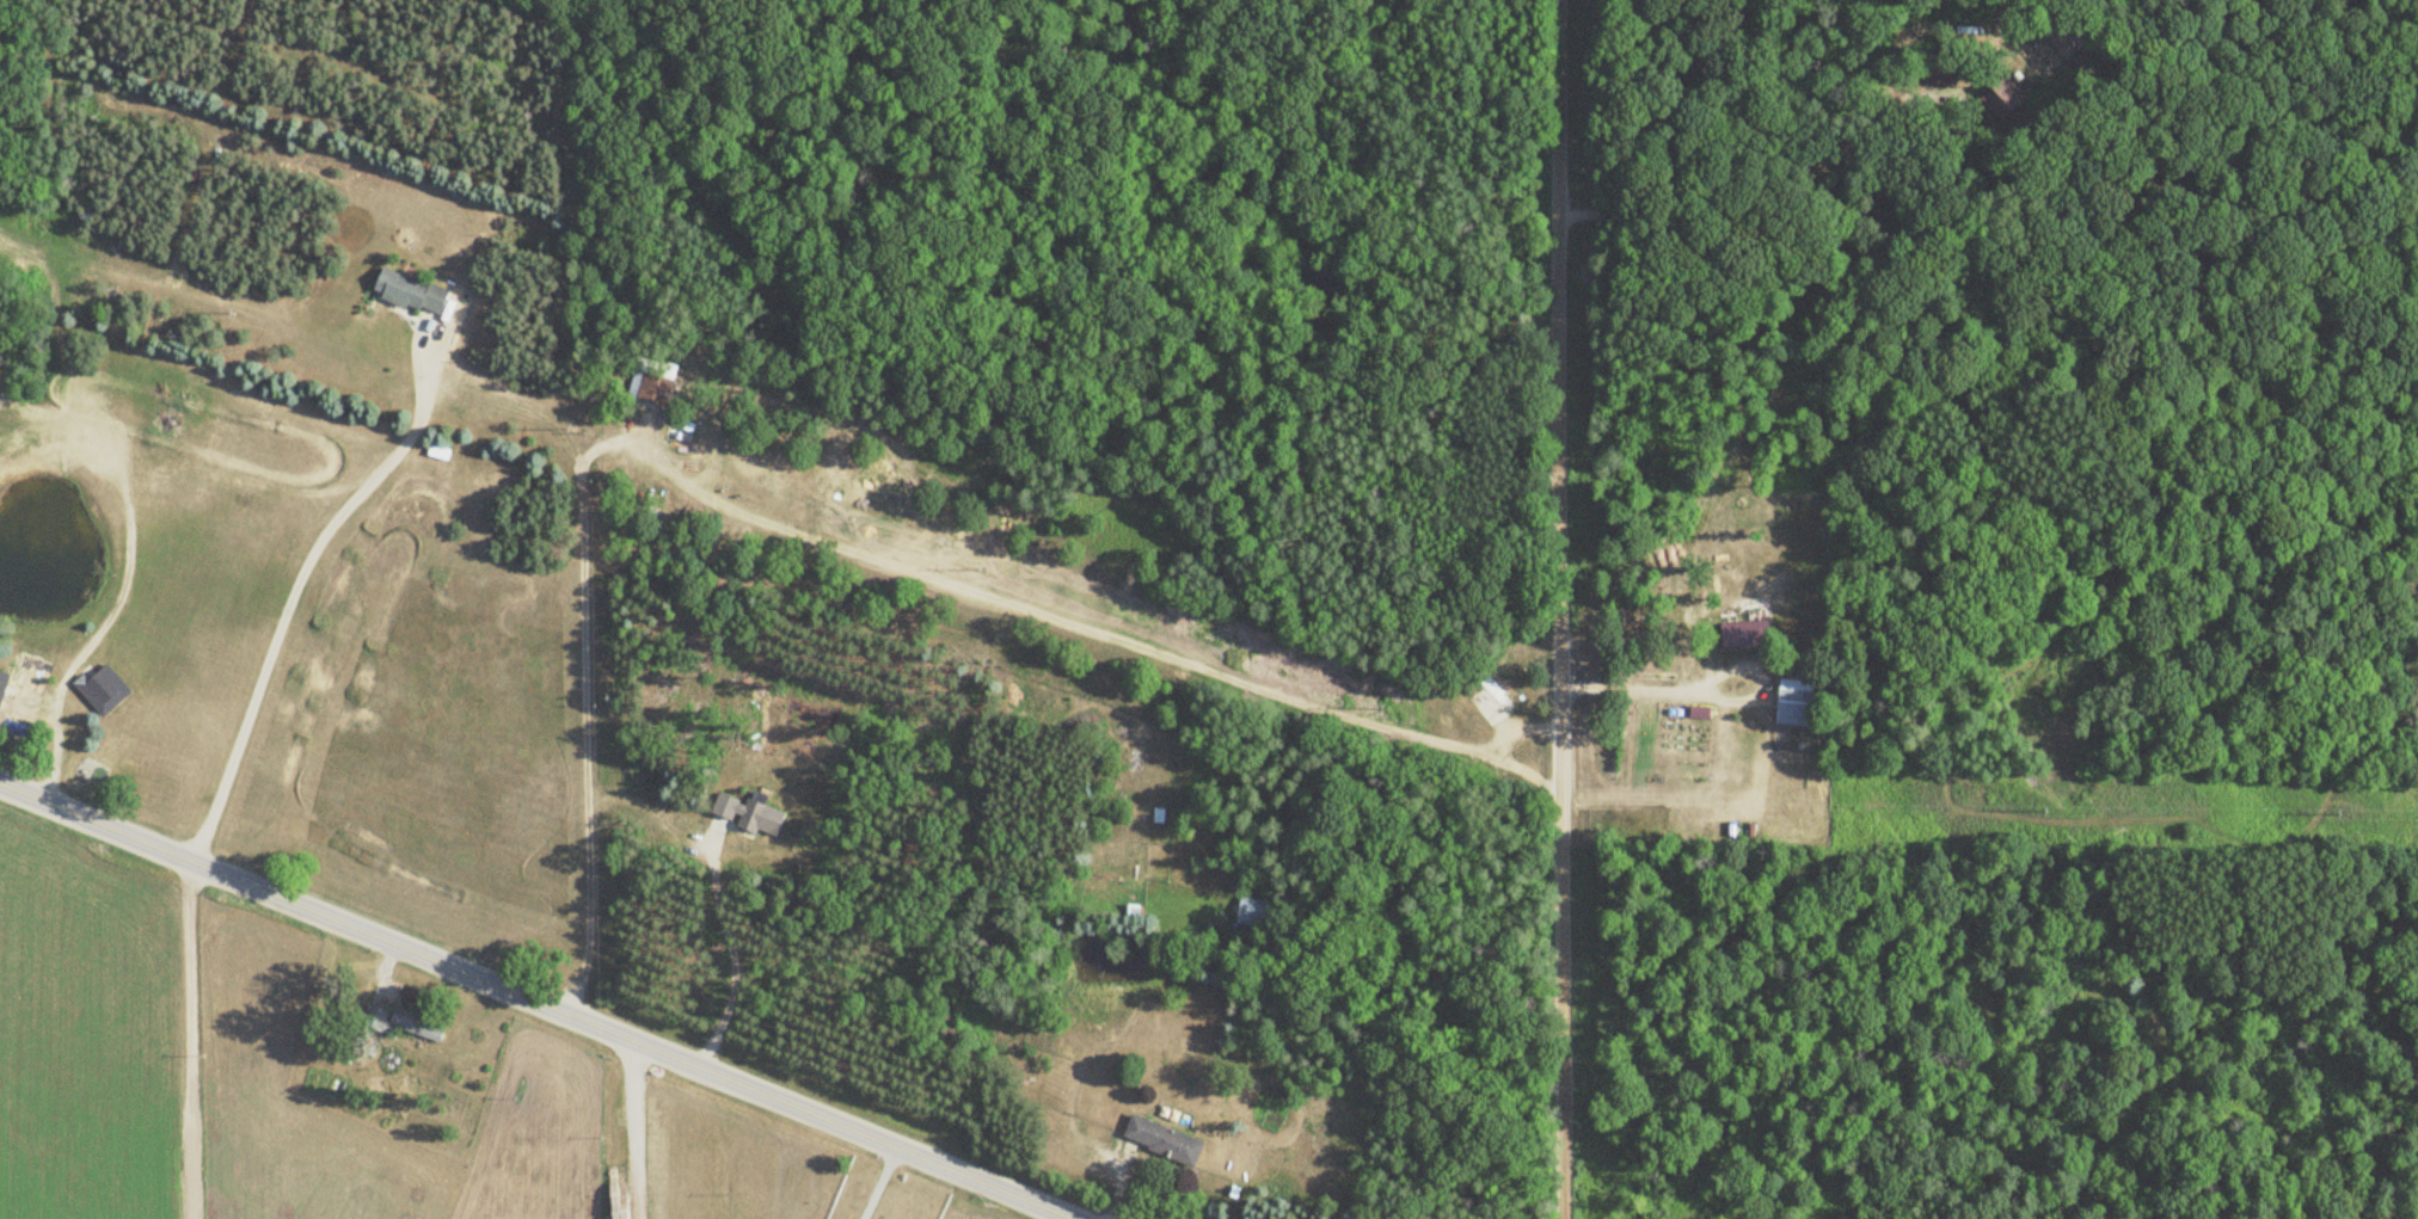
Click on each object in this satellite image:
building: (411, 293)
building: (651, 380)
building: (438, 451)
road: (802, 535)
road: (297, 577)
road: (1566, 609)
building: (1743, 633)
building: (2, 682)
building: (1489, 687)
building: (102, 689)
road: (1711, 690)
building: (1794, 701)
road: (1517, 722)
building: (749, 812)
building: (1250, 912)
road: (726, 952)
road: (545, 1002)
building: (416, 1026)
building: (1164, 1140)
road: (874, 1180)
road: (1070, 1215)

